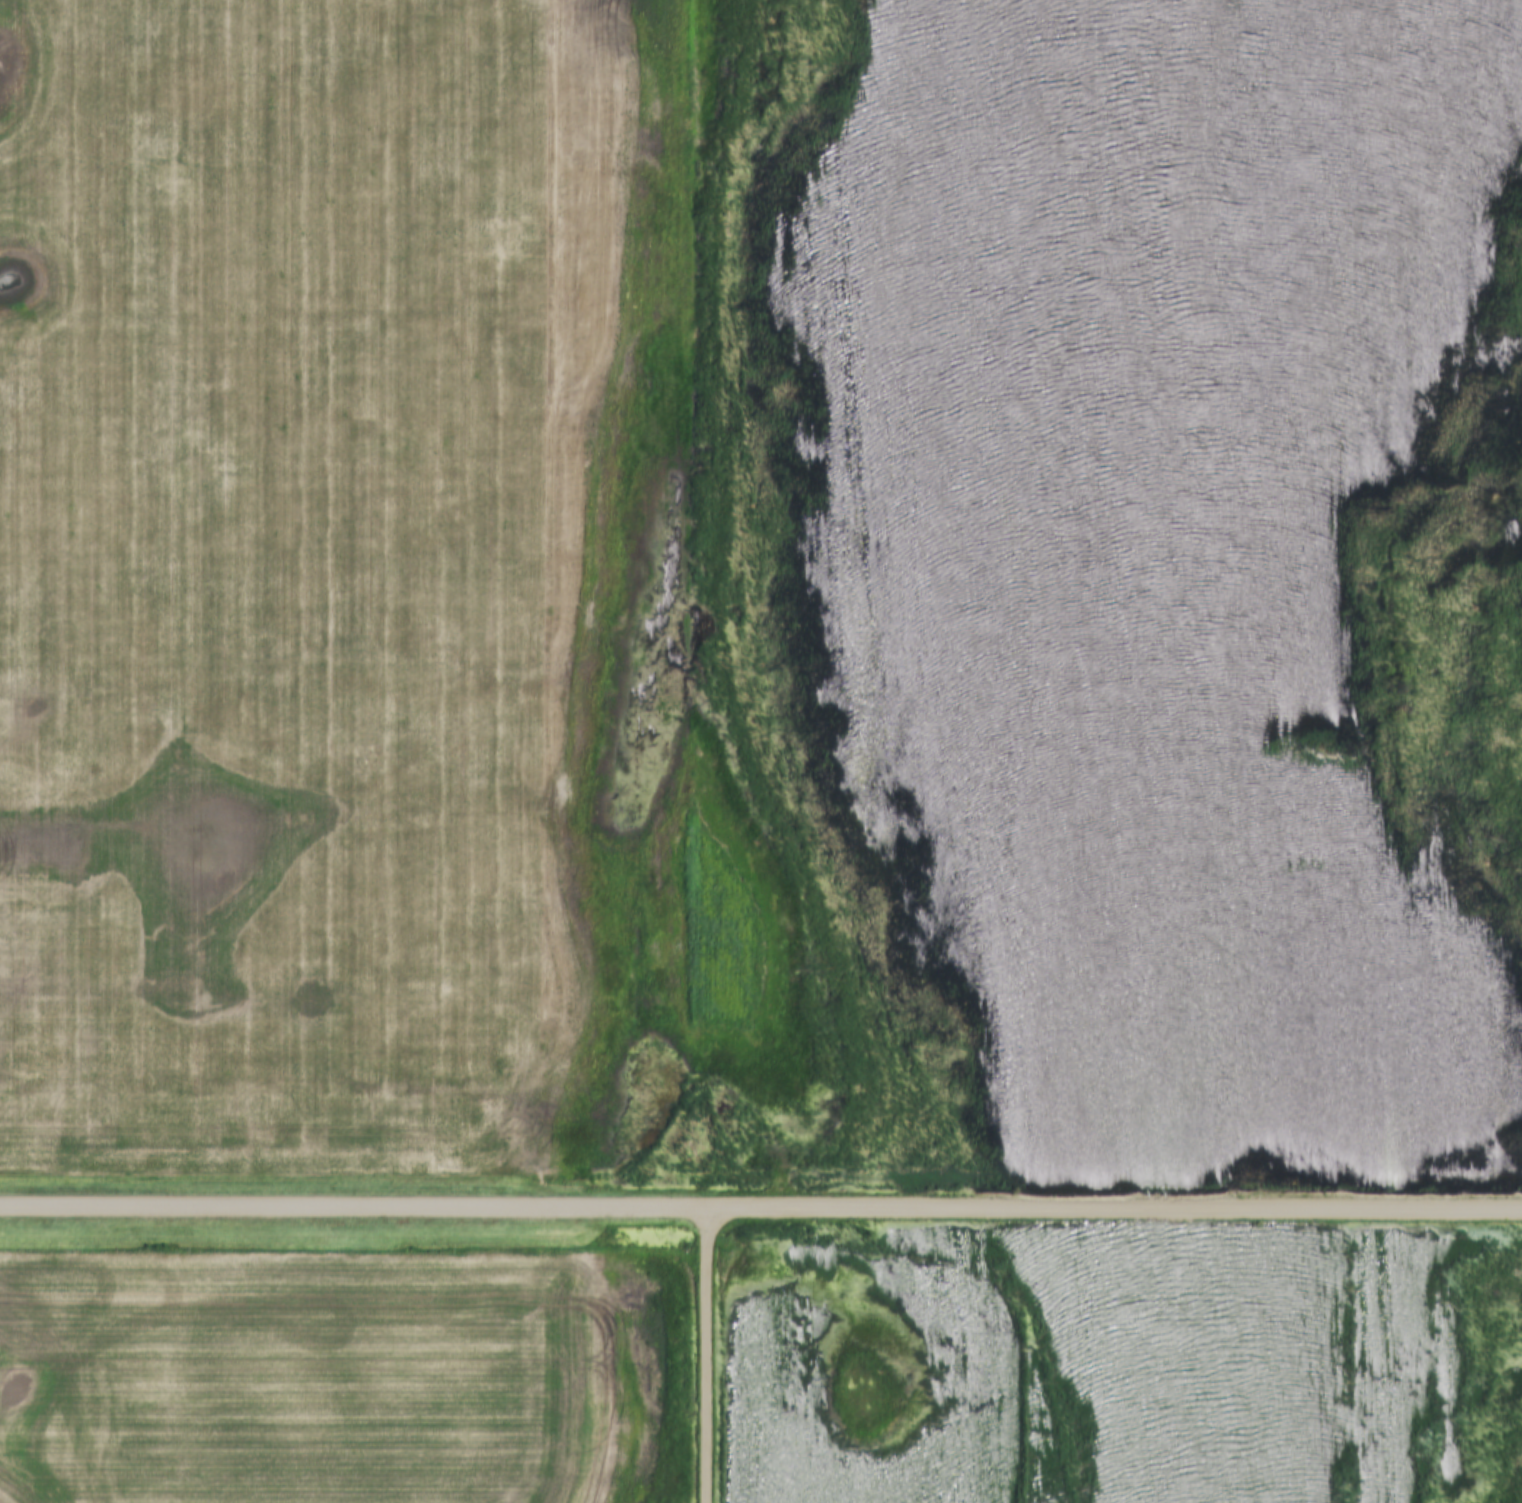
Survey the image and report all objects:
road: (761, 1207)
road: (706, 1355)

